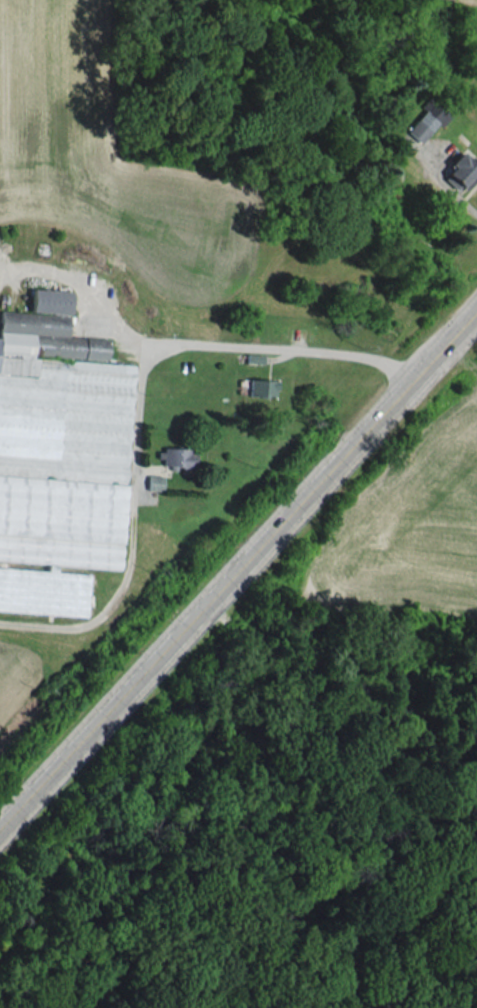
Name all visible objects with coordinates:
building: (427, 119)
building: (462, 171)
road: (459, 198)
road: (225, 347)
building: (261, 387)
building: (58, 456)
building: (177, 457)
building: (154, 482)
road: (238, 561)

